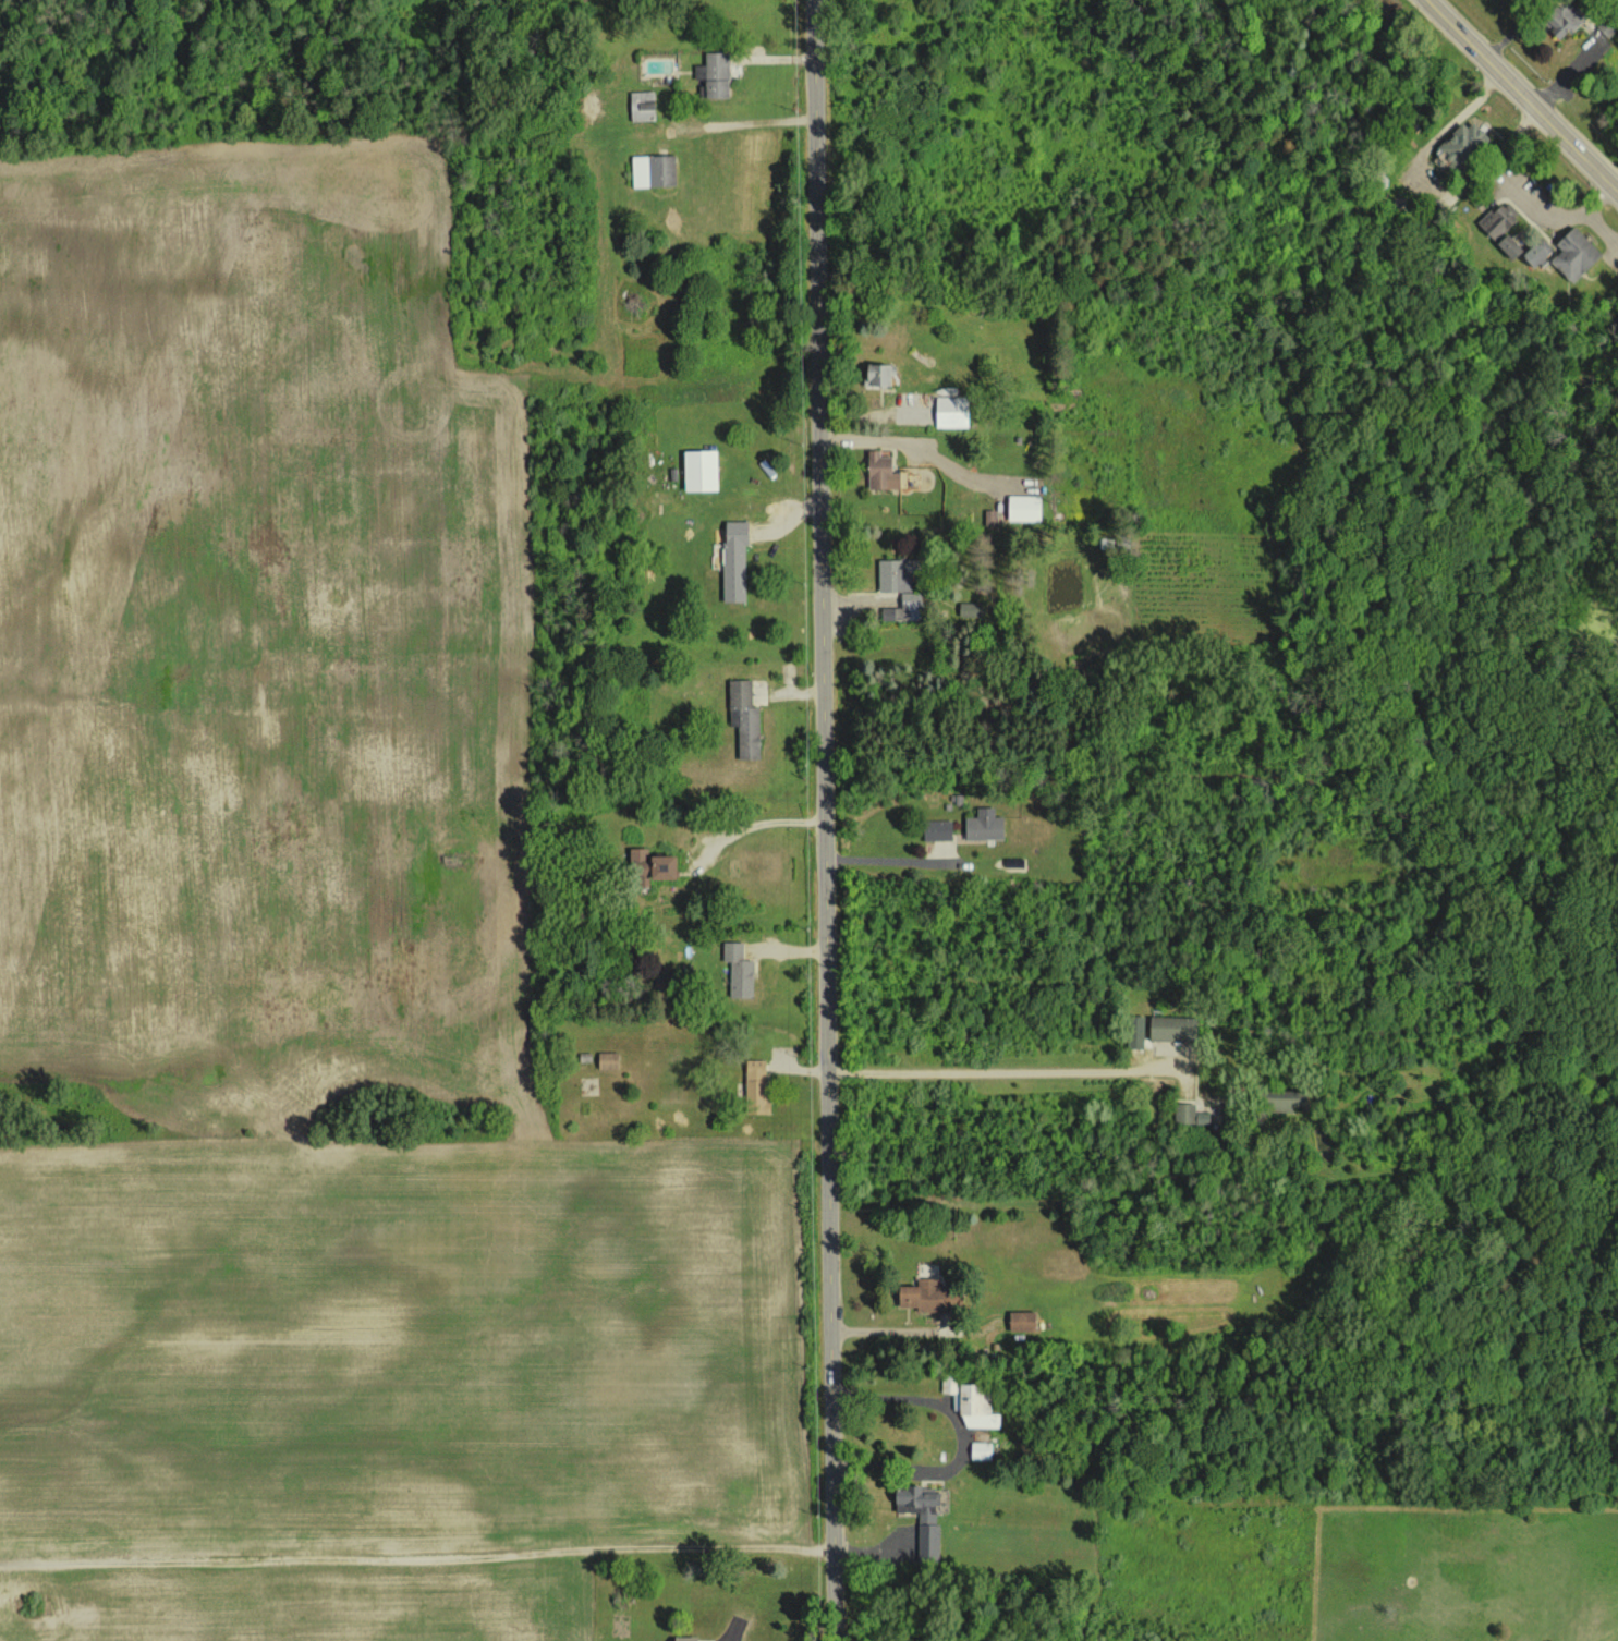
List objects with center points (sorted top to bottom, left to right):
building: (1561, 19)
building: (715, 74)
road: (1526, 92)
building: (642, 105)
building: (1458, 147)
building: (653, 170)
road: (1425, 182)
road: (1548, 211)
building: (1501, 228)
road: (1598, 229)
building: (1535, 251)
building: (1573, 254)
building: (875, 375)
building: (949, 411)
road: (927, 450)
building: (699, 470)
building: (880, 472)
building: (1022, 508)
building: (733, 561)
building: (897, 589)
building: (971, 609)
building: (743, 718)
road: (755, 819)
road: (825, 819)
building: (983, 825)
building: (936, 829)
road: (885, 859)
building: (648, 866)
building: (738, 970)
building: (1172, 1029)
building: (1135, 1032)
building: (607, 1060)
road: (995, 1072)
building: (755, 1086)
building: (1184, 1113)
building: (1203, 1117)
building: (929, 1294)
building: (1020, 1321)
building: (948, 1384)
building: (974, 1408)
road: (962, 1435)
building: (920, 1516)
building: (682, 1638)
road: (722, 1639)

